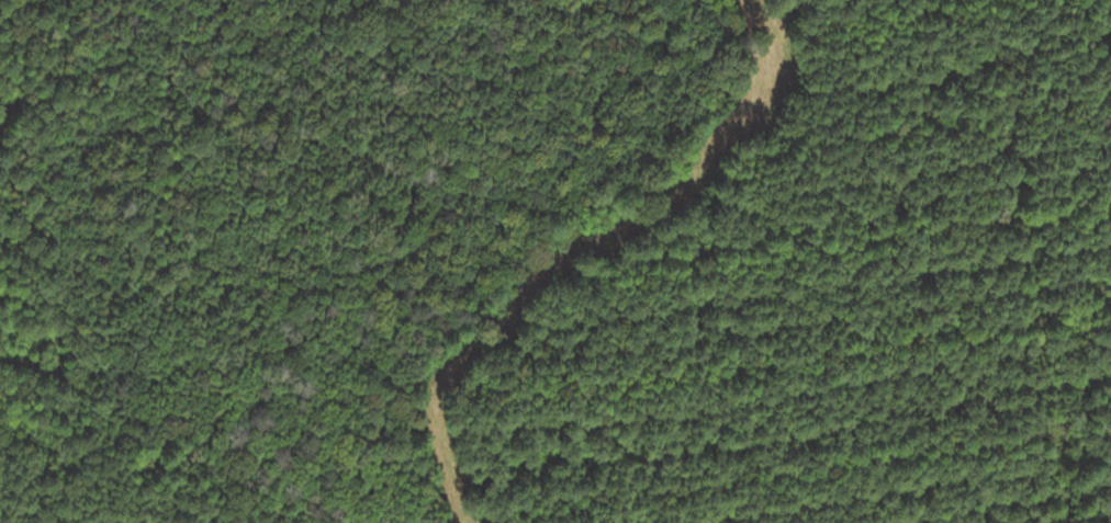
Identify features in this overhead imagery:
road: (1093, 39)

